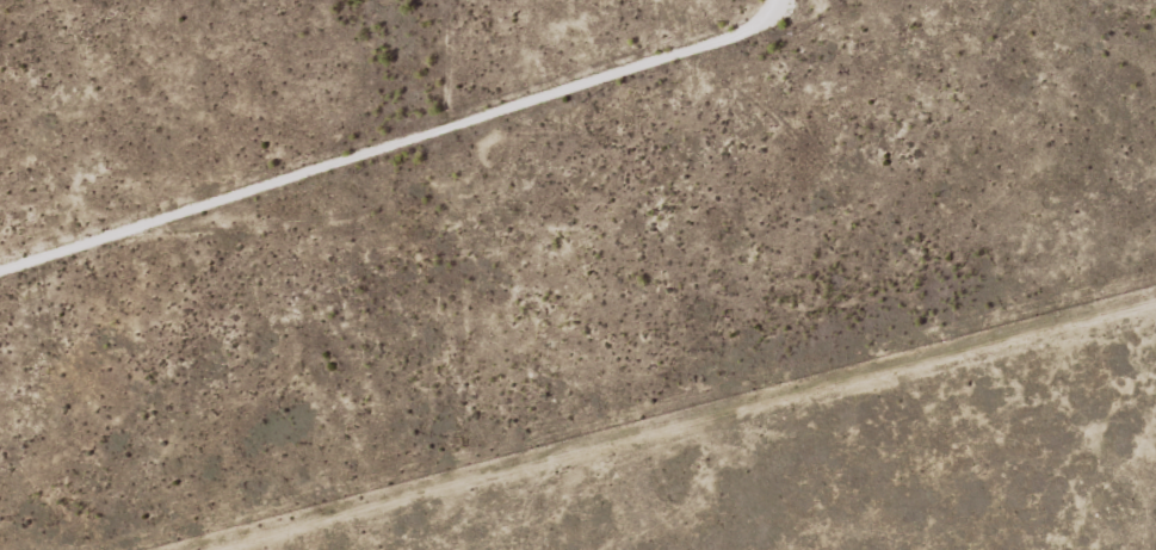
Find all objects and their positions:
road: (761, 444)

